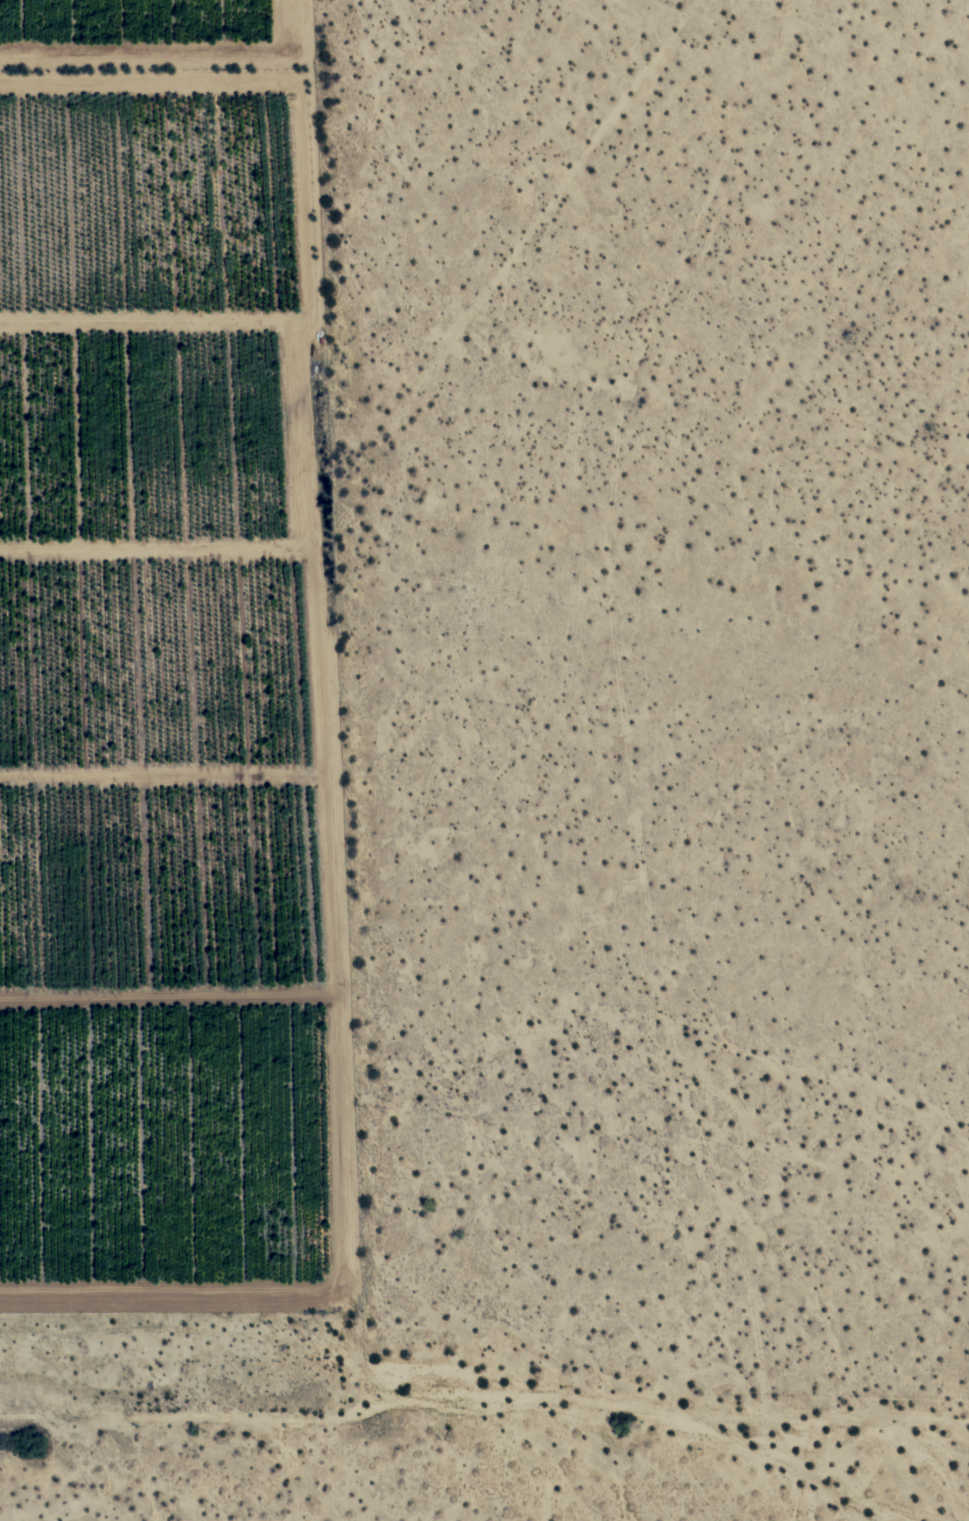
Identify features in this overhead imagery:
crop: (155, 653)

